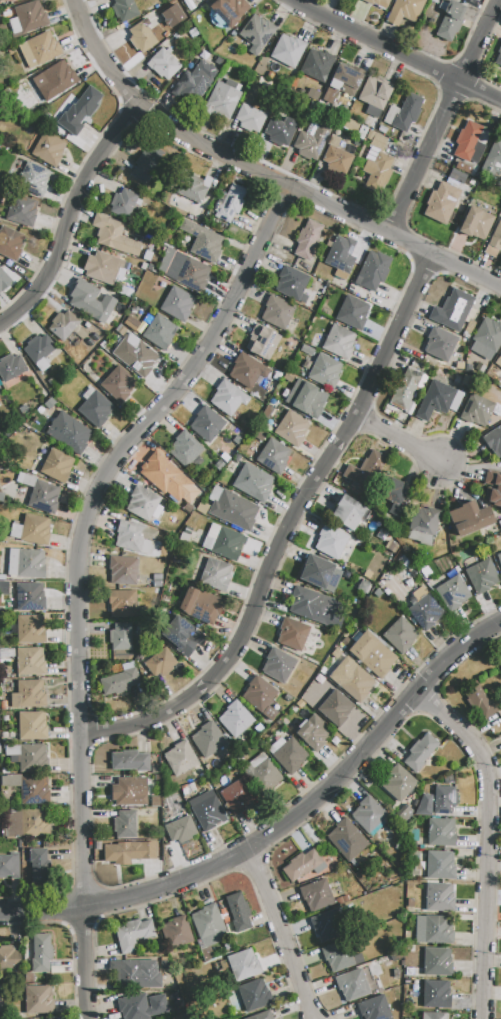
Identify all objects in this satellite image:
building: (4, 0)
building: (158, 0)
building: (473, 2)
building: (379, 3)
building: (176, 7)
building: (127, 8)
building: (189, 8)
building: (472, 9)
building: (229, 10)
building: (405, 11)
building: (31, 15)
building: (171, 15)
building: (451, 20)
building: (14, 26)
building: (257, 33)
building: (141, 37)
building: (39, 50)
building: (287, 51)
road: (397, 51)
building: (498, 55)
building: (218, 61)
building: (316, 64)
building: (163, 65)
building: (347, 79)
building: (57, 81)
building: (195, 83)
building: (375, 95)
building: (222, 100)
building: (250, 101)
building: (80, 111)
building: (404, 112)
road: (441, 116)
building: (250, 119)
building: (371, 122)
building: (350, 125)
building: (382, 128)
building: (280, 131)
building: (362, 133)
building: (467, 139)
building: (312, 140)
building: (376, 140)
building: (49, 149)
building: (495, 153)
building: (337, 160)
building: (147, 163)
building: (459, 166)
building: (467, 170)
building: (378, 172)
road: (261, 176)
building: (457, 177)
building: (34, 180)
building: (192, 188)
building: (442, 202)
building: (123, 203)
building: (230, 203)
building: (22, 212)
road: (73, 223)
building: (476, 223)
building: (114, 235)
building: (496, 237)
building: (166, 238)
building: (308, 239)
building: (203, 241)
building: (11, 243)
building: (340, 254)
building: (143, 266)
building: (102, 267)
building: (373, 271)
building: (186, 272)
building: (1, 274)
building: (291, 284)
building: (361, 293)
building: (91, 301)
building: (317, 301)
building: (177, 304)
building: (452, 311)
building: (277, 312)
building: (353, 313)
building: (63, 324)
building: (134, 325)
building: (87, 326)
building: (158, 331)
building: (487, 339)
building: (262, 342)
building: (339, 342)
building: (439, 345)
building: (39, 347)
building: (307, 350)
building: (136, 355)
building: (500, 356)
building: (470, 366)
building: (11, 367)
building: (247, 371)
building: (325, 371)
building: (277, 376)
building: (289, 377)
building: (118, 384)
building: (406, 388)
building: (228, 397)
building: (307, 398)
building: (438, 400)
building: (50, 403)
building: (95, 408)
building: (477, 410)
building: (268, 411)
building: (262, 420)
building: (206, 424)
building: (292, 428)
building: (69, 433)
building: (260, 435)
road: (401, 441)
building: (493, 441)
building: (185, 449)
building: (274, 455)
building: (57, 466)
building: (220, 466)
building: (366, 470)
building: (216, 471)
building: (168, 479)
building: (253, 482)
building: (498, 489)
building: (215, 493)
building: (41, 495)
building: (393, 495)
building: (144, 504)
building: (202, 508)
building: (234, 510)
building: (349, 512)
building: (178, 516)
building: (469, 517)
building: (424, 520)
building: (172, 527)
building: (35, 530)
building: (187, 530)
building: (16, 531)
road: (287, 531)
building: (211, 537)
building: (135, 538)
building: (331, 541)
building: (357, 542)
building: (227, 544)
building: (392, 547)
building: (442, 552)
building: (499, 558)
building: (176, 560)
building: (12, 562)
building: (30, 563)
building: (123, 570)
building: (316, 572)
road: (79, 575)
building: (216, 575)
building: (481, 576)
building: (2, 577)
building: (157, 581)
building: (4, 585)
building: (330, 585)
building: (362, 587)
building: (157, 591)
building: (377, 593)
building: (420, 593)
building: (453, 593)
building: (30, 596)
building: (165, 599)
building: (413, 601)
building: (122, 603)
building: (200, 606)
building: (311, 606)
building: (425, 612)
building: (336, 626)
building: (31, 629)
building: (293, 634)
building: (400, 635)
building: (183, 636)
building: (356, 636)
building: (121, 637)
building: (7, 653)
building: (336, 654)
building: (373, 654)
building: (500, 659)
building: (30, 661)
building: (160, 663)
building: (278, 665)
building: (352, 679)
building: (121, 680)
building: (258, 693)
building: (29, 695)
building: (287, 699)
building: (480, 703)
building: (3, 705)
building: (336, 708)
building: (295, 710)
building: (270, 713)
building: (235, 719)
building: (32, 726)
building: (258, 728)
building: (314, 732)
building: (208, 740)
building: (276, 746)
building: (14, 750)
building: (420, 752)
building: (289, 756)
building: (33, 758)
building: (180, 758)
building: (130, 761)
building: (254, 763)
building: (207, 768)
building: (155, 769)
building: (5, 771)
building: (264, 776)
building: (11, 780)
building: (398, 783)
building: (34, 790)
building: (184, 790)
building: (130, 791)
building: (238, 796)
building: (6, 799)
building: (444, 800)
building: (155, 802)
building: (173, 805)
building: (426, 805)
building: (407, 812)
building: (209, 813)
building: (368, 814)
building: (27, 824)
building: (124, 824)
road: (279, 824)
building: (180, 830)
building: (441, 832)
building: (413, 835)
building: (346, 840)
road: (485, 842)
building: (401, 845)
building: (412, 845)
building: (129, 852)
building: (303, 865)
building: (440, 866)
building: (9, 867)
building: (39, 868)
building: (316, 895)
building: (439, 898)
building: (410, 902)
building: (239, 912)
building: (208, 925)
building: (325, 925)
building: (433, 930)
building: (177, 932)
building: (134, 934)
road: (279, 934)
building: (42, 953)
building: (340, 956)
building: (9, 957)
building: (28, 962)
building: (437, 962)
building: (243, 964)
building: (136, 974)
building: (357, 984)
building: (436, 994)
building: (255, 996)
building: (39, 999)
building: (140, 1008)
building: (374, 1008)
building: (434, 1015)
building: (262, 1016)
building: (51, 1018)

